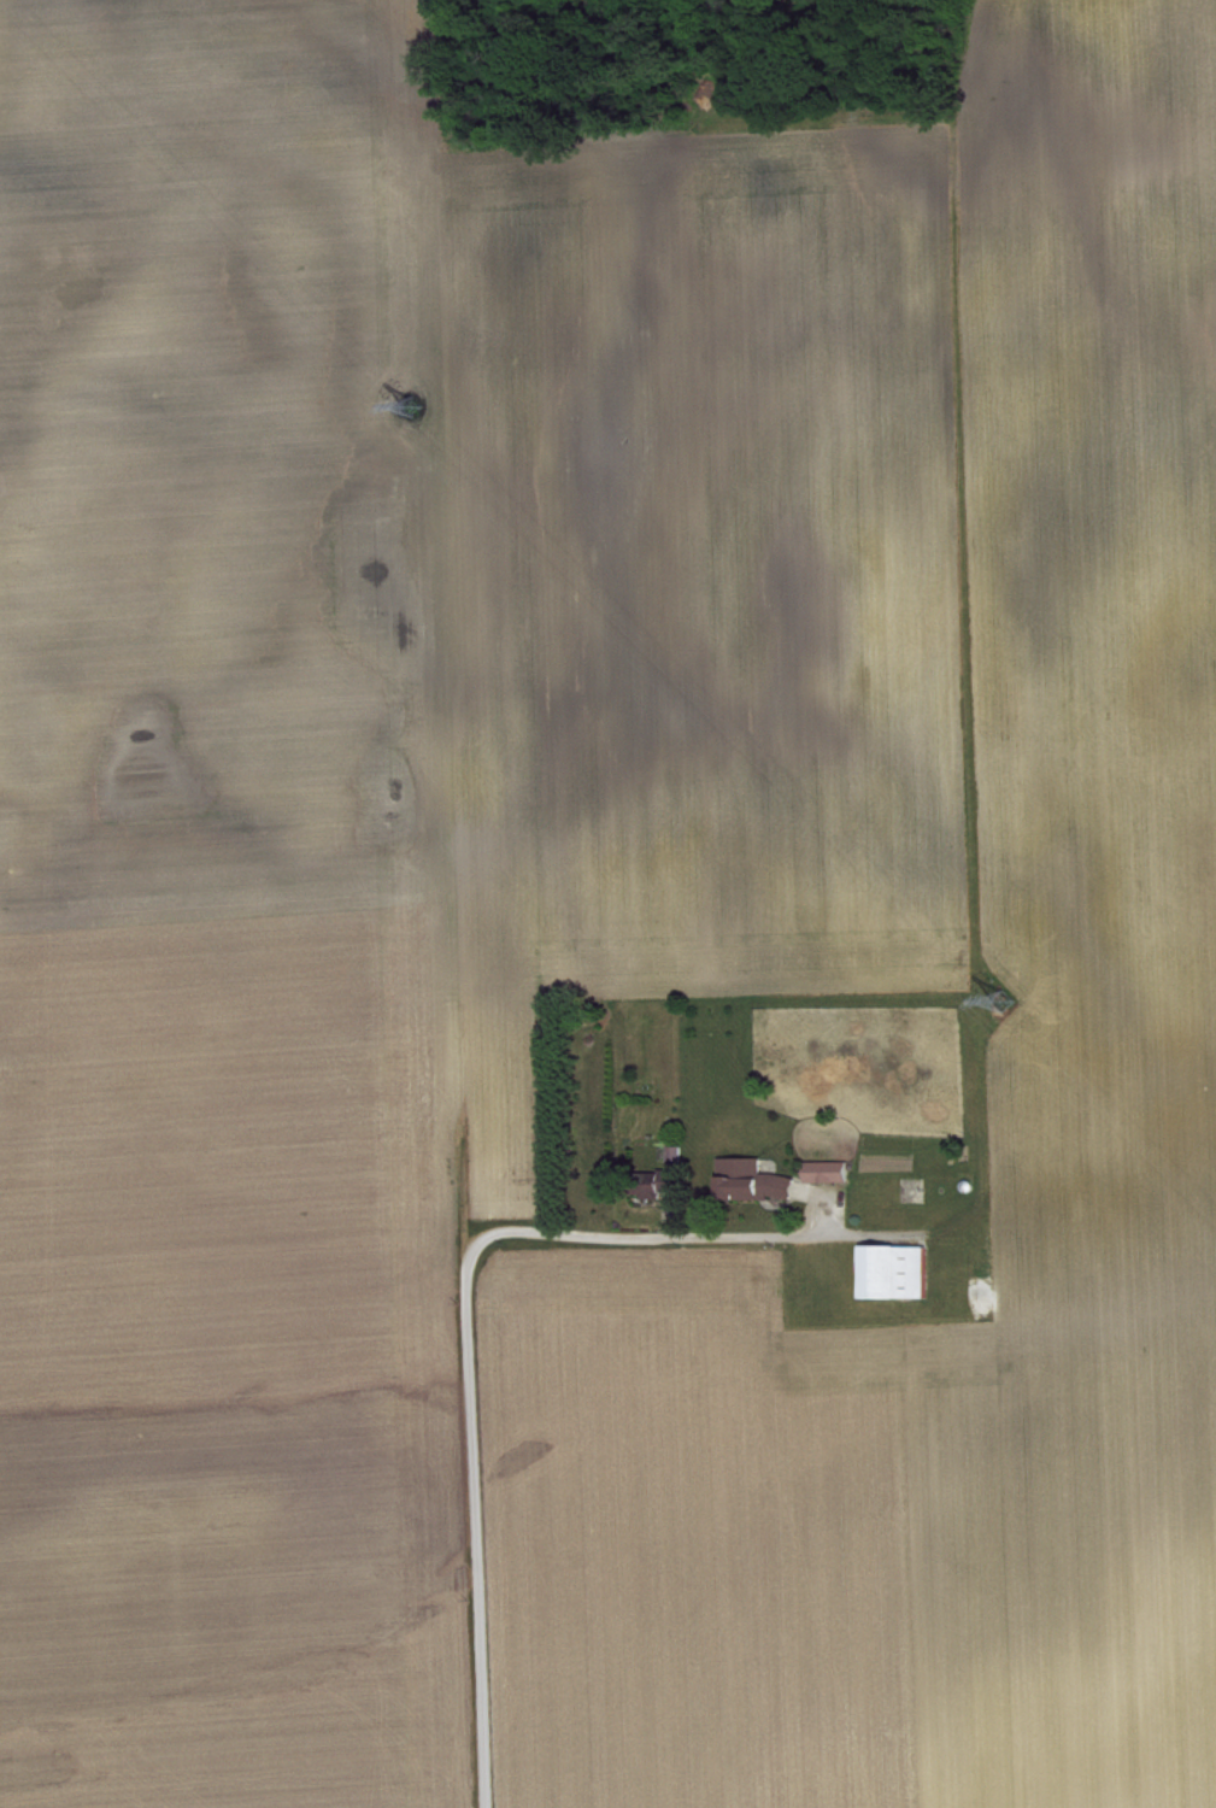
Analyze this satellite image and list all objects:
power tower: (412, 411)
power tower: (1006, 1000)
building: (833, 1180)
building: (758, 1188)
building: (666, 1191)
road: (812, 1235)
road: (591, 1239)
building: (900, 1280)
road: (480, 1532)

